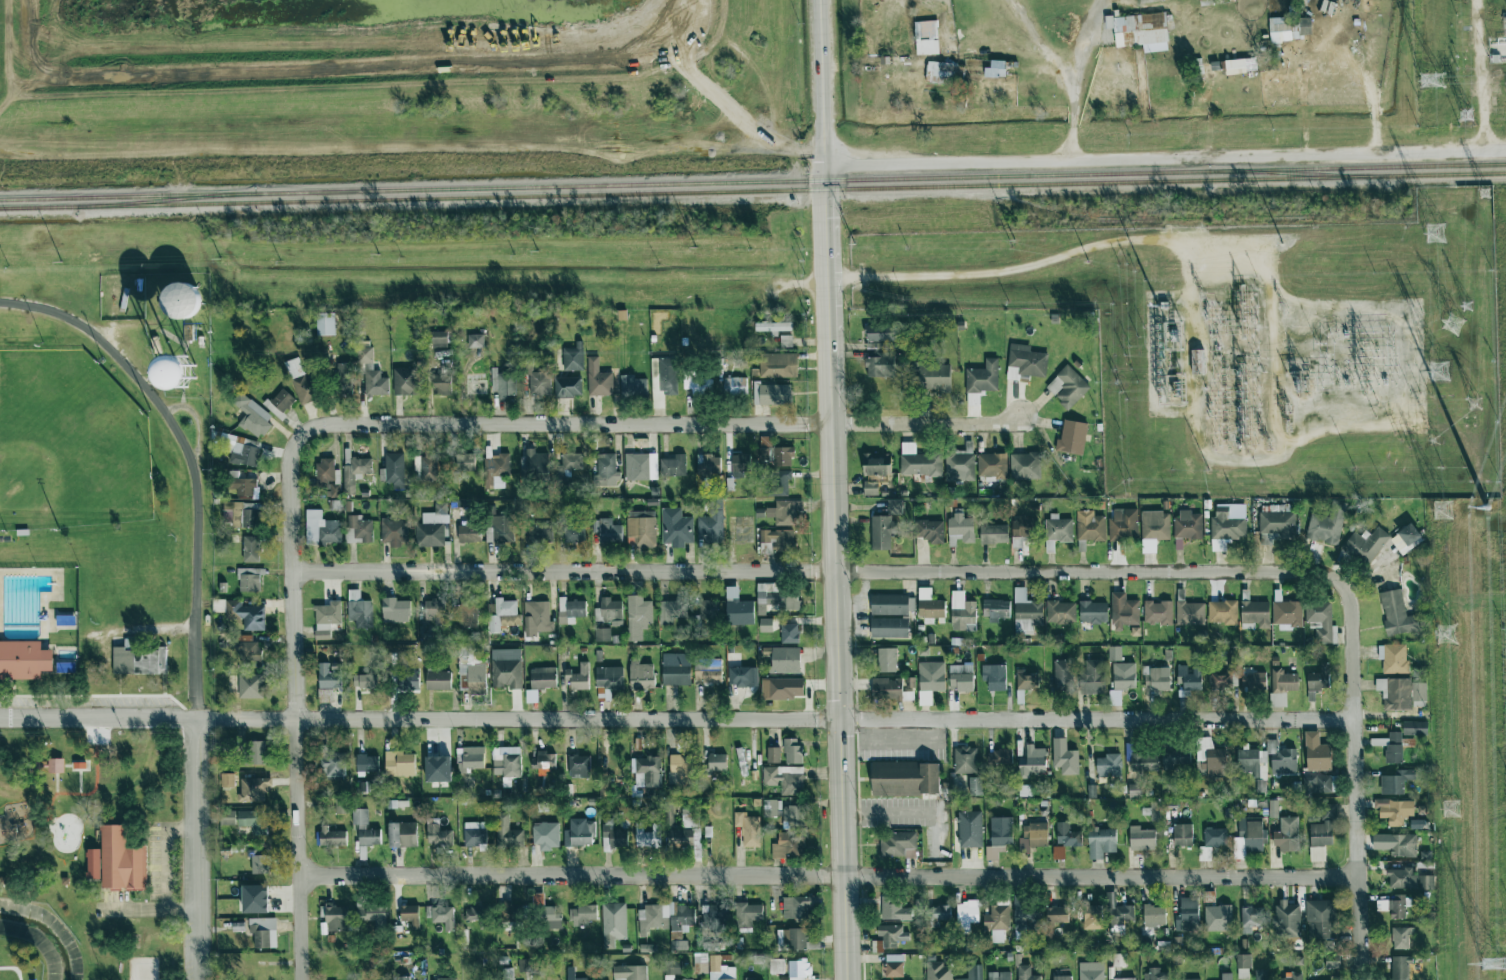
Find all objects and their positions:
building: (1135, 28)
building: (1286, 29)
building: (926, 37)
building: (1234, 66)
building: (996, 69)
building: (945, 73)
road: (1076, 78)
power tower: (1431, 79)
road: (821, 82)
power tower: (1466, 116)
road: (414, 152)
road: (1165, 157)
railway: (1296, 173)
railway: (880, 178)
railway: (791, 189)
railway: (127, 196)
railway: (166, 200)
railway: (38, 207)
power tower: (1436, 233)
road: (1009, 275)
road: (826, 294)
building: (181, 299)
building: (325, 323)
power tower: (1453, 325)
building: (774, 326)
building: (880, 333)
building: (439, 339)
building: (475, 340)
building: (786, 341)
power tower: (1368, 358)
building: (1028, 360)
power substation: (1257, 364)
building: (778, 365)
building: (880, 365)
water tower: (179, 372)
building: (371, 372)
building: (179, 373)
building: (932, 376)
building: (983, 377)
building: (345, 378)
building: (537, 379)
building: (598, 379)
building: (405, 381)
building: (694, 381)
building: (302, 382)
building: (441, 384)
building: (503, 384)
building: (632, 385)
building: (734, 386)
building: (568, 387)
building: (1068, 387)
building: (772, 394)
building: (282, 400)
building: (274, 410)
building: (252, 416)
road: (658, 424)
building: (1073, 436)
park: (69, 443)
building: (241, 449)
road: (189, 459)
building: (918, 459)
building: (960, 459)
building: (536, 460)
building: (572, 461)
building: (877, 461)
building: (465, 462)
building: (640, 462)
building: (708, 462)
building: (740, 462)
building: (991, 462)
building: (425, 463)
building: (674, 463)
building: (326, 464)
building: (359, 464)
building: (582, 475)
building: (561, 476)
building: (778, 483)
building: (243, 486)
building: (871, 488)
power tower: (1486, 506)
building: (895, 507)
power tower: (1443, 510)
building: (779, 512)
building: (242, 514)
building: (1275, 522)
building: (711, 523)
building: (1124, 525)
building: (1188, 525)
building: (1229, 525)
building: (432, 526)
building: (1091, 526)
building: (676, 527)
building: (321, 528)
building: (960, 528)
building: (359, 529)
building: (503, 529)
building: (641, 529)
building: (1045, 529)
building: (1155, 529)
building: (1320, 530)
building: (394, 531)
building: (607, 531)
building: (930, 531)
building: (540, 532)
building: (882, 532)
building: (469, 533)
building: (573, 533)
building: (993, 534)
building: (776, 540)
building: (1362, 545)
building: (251, 549)
park: (83, 571)
road: (816, 571)
building: (250, 579)
building: (776, 597)
building: (889, 604)
building: (929, 604)
building: (738, 608)
building: (396, 610)
building: (570, 610)
building: (709, 610)
building: (998, 610)
building: (435, 611)
building: (672, 611)
building: (1095, 611)
building: (1125, 611)
building: (1160, 611)
building: (609, 612)
building: (1063, 612)
building: (1224, 612)
building: (361, 613)
building: (466, 613)
building: (963, 613)
building: (1192, 613)
building: (1258, 613)
building: (1288, 613)
building: (1392, 613)
building: (246, 614)
building: (503, 615)
building: (638, 616)
building: (326, 618)
building: (537, 618)
building: (1321, 618)
building: (766, 625)
building: (889, 627)
building: (790, 633)
building: (602, 634)
power tower: (1451, 637)
building: (247, 648)
building: (1395, 657)
building: (24, 659)
building: (138, 659)
building: (887, 659)
building: (785, 660)
building: (507, 668)
building: (676, 669)
building: (708, 670)
building: (471, 671)
building: (641, 675)
building: (1127, 675)
building: (743, 676)
building: (994, 676)
building: (543, 677)
building: (578, 677)
building: (961, 678)
building: (1161, 678)
building: (409, 679)
building: (609, 679)
building: (365, 680)
building: (438, 680)
building: (930, 680)
building: (1208, 680)
building: (1318, 680)
building: (1028, 681)
building: (910, 682)
building: (1291, 682)
building: (251, 685)
building: (782, 688)
building: (887, 689)
building: (1401, 692)
building: (531, 696)
traffic signals: (840, 700)
road: (840, 701)
road: (295, 707)
road: (676, 719)
building: (1416, 728)
traffic signals: (840, 736)
building: (1391, 746)
building: (792, 750)
building: (254, 752)
building: (1318, 753)
building: (773, 754)
building: (1037, 754)
building: (999, 756)
building: (1067, 757)
building: (470, 758)
building: (543, 759)
building: (965, 760)
building: (332, 761)
building: (506, 761)
building: (1162, 761)
building: (1284, 761)
building: (717, 762)
building: (367, 763)
building: (399, 763)
building: (55, 765)
building: (1109, 765)
building: (579, 766)
building: (1036, 767)
building: (438, 768)
building: (650, 770)
building: (681, 771)
building: (905, 778)
building: (785, 779)
road: (1353, 779)
building: (227, 780)
building: (1393, 784)
building: (975, 786)
building: (605, 787)
building: (254, 789)
road: (103, 796)
building: (341, 806)
building: (771, 807)
power tower: (1453, 809)
building: (1396, 810)
building: (669, 813)
building: (360, 816)
building: (794, 816)
building: (228, 817)
building: (253, 821)
building: (748, 828)
building: (686, 829)
building: (970, 829)
building: (508, 833)
building: (580, 833)
building: (1322, 833)
building: (403, 834)
building: (1039, 834)
building: (1185, 834)
building: (1288, 834)
building: (438, 835)
building: (475, 835)
building: (546, 835)
building: (613, 835)
building: (648, 835)
building: (1067, 835)
building: (1239, 835)
building: (331, 836)
building: (1000, 836)
building: (369, 837)
building: (1144, 838)
building: (1105, 842)
building: (896, 843)
building: (1397, 844)
building: (787, 846)
road: (198, 849)
building: (1060, 851)
building: (121, 861)
building: (94, 863)
building: (259, 864)
road: (168, 866)
road: (828, 876)
building: (1407, 879)
building: (256, 899)
building: (799, 906)
building: (1398, 906)
building: (894, 909)
building: (514, 912)
building: (1125, 913)
building: (375, 914)
building: (410, 914)
building: (478, 914)
building: (937, 914)
building: (967, 914)
building: (1061, 914)
building: (582, 915)
building: (1156, 915)
building: (1189, 915)
building: (441, 916)
building: (747, 916)
building: (335, 917)
building: (552, 917)
building: (665, 917)
building: (714, 917)
building: (1275, 917)
building: (1219, 918)
building: (1326, 918)
building: (998, 921)
building: (613, 922)
building: (264, 932)
building: (892, 935)
building: (792, 938)
building: (1403, 938)
building: (700, 963)
building: (1244, 963)
building: (894, 965)
building: (777, 966)
building: (673, 967)
building: (798, 969)
building: (720, 970)
building: (1091, 971)
building: (630, 972)
building: (973, 972)
power tower: (1492, 972)
building: (506, 973)
building: (1027, 973)
building: (573, 974)
building: (1000, 975)
building: (1156, 975)
building: (1228, 976)
building: (1063, 977)
building: (1293, 977)
building: (404, 978)
building: (552, 978)
building: (748, 978)
building: (1123, 978)
building: (445, 979)
building: (691, 979)
building: (1172, 979)
building: (1193, 979)

